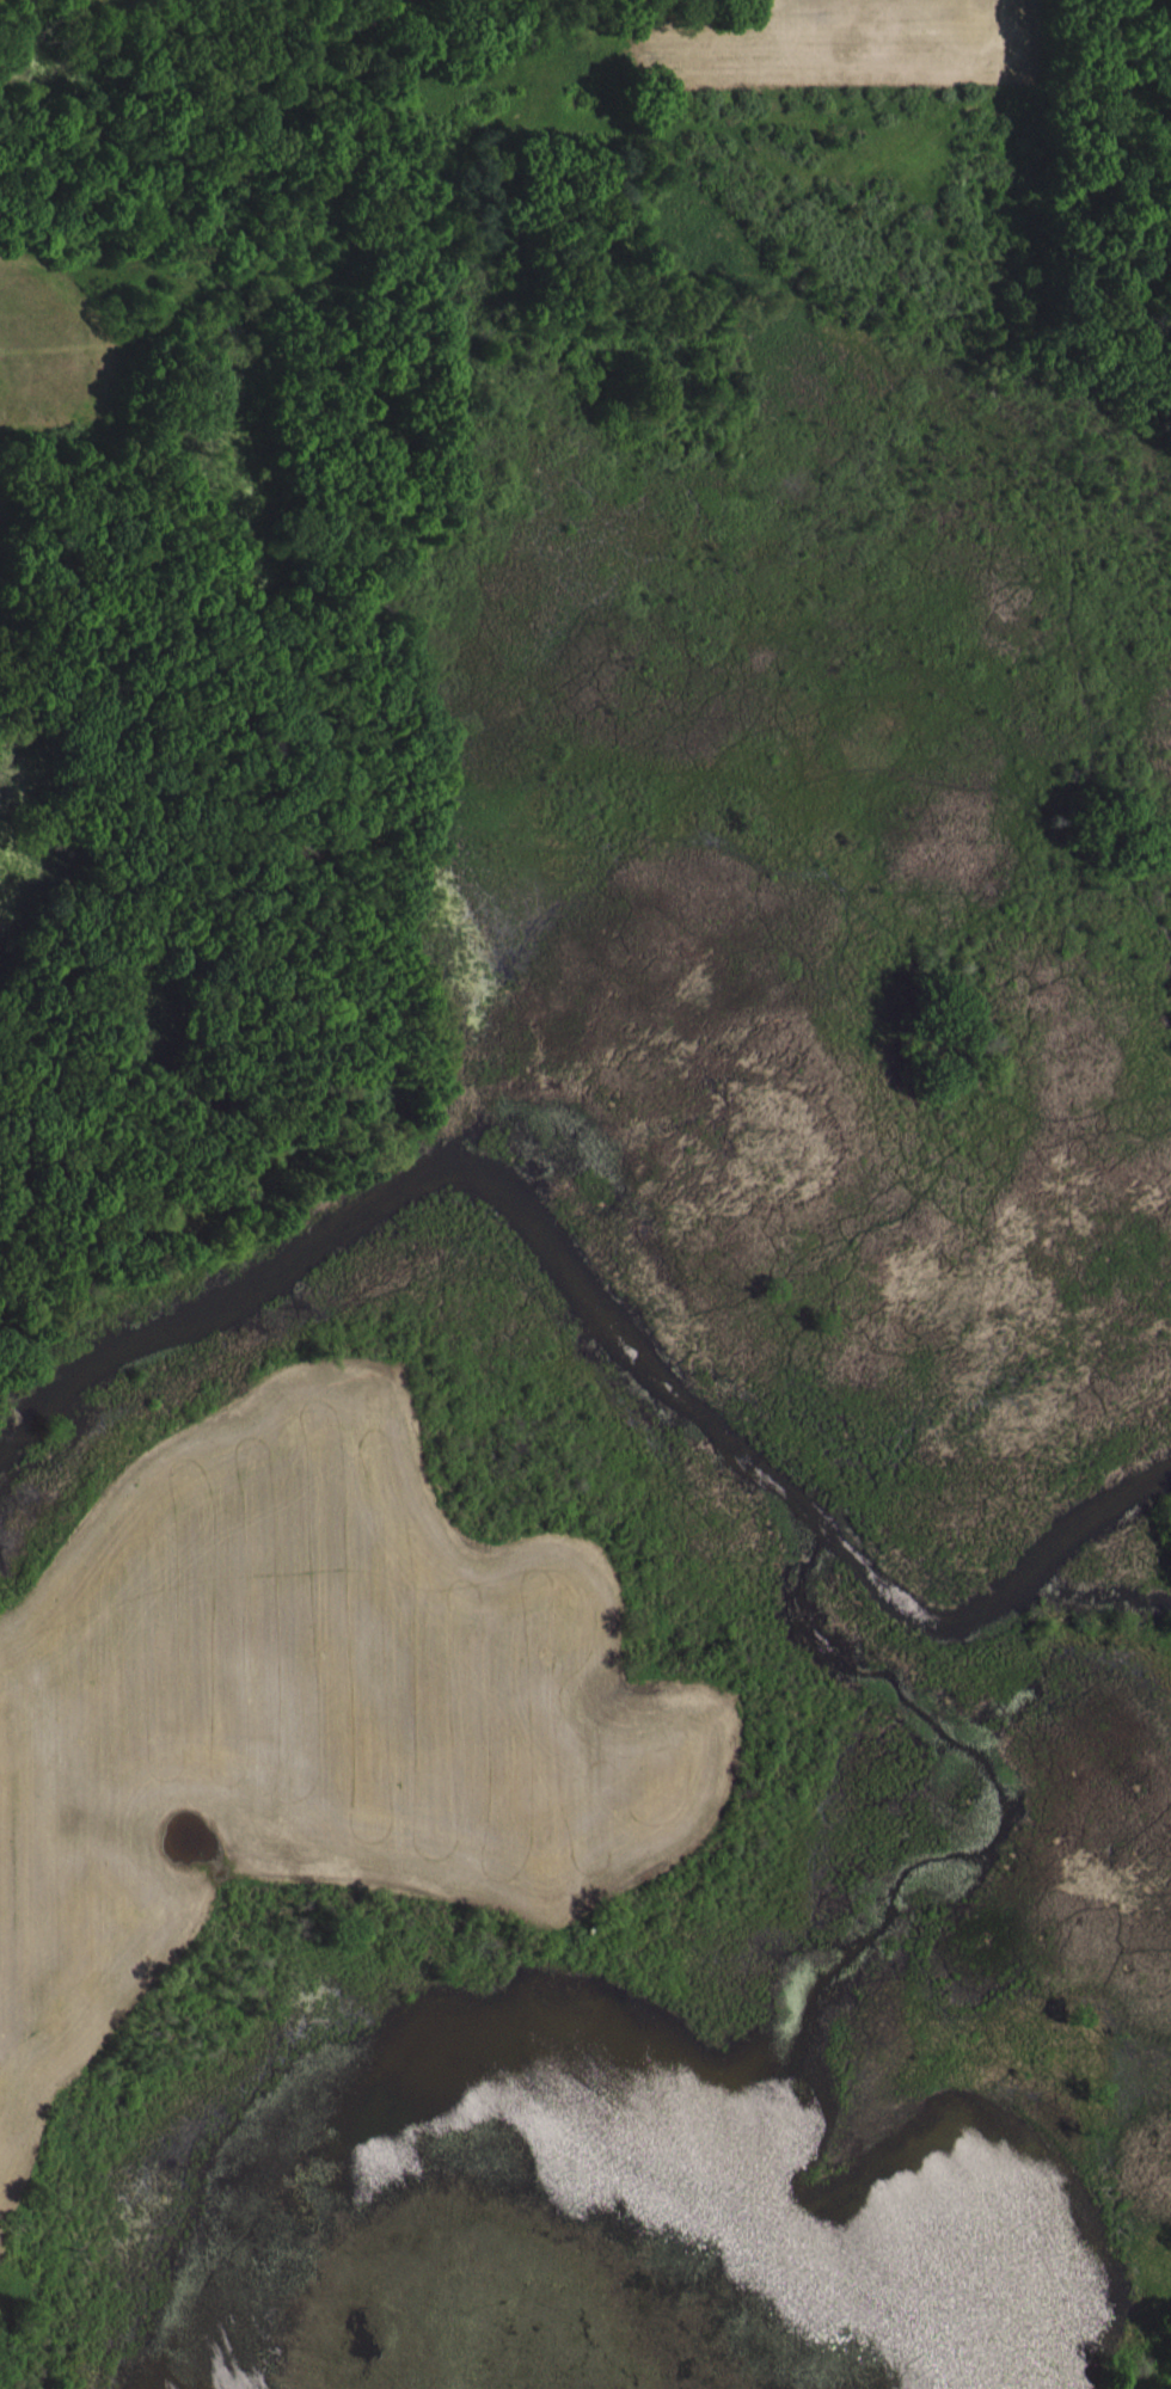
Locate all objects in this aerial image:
river: (619, 1272)

